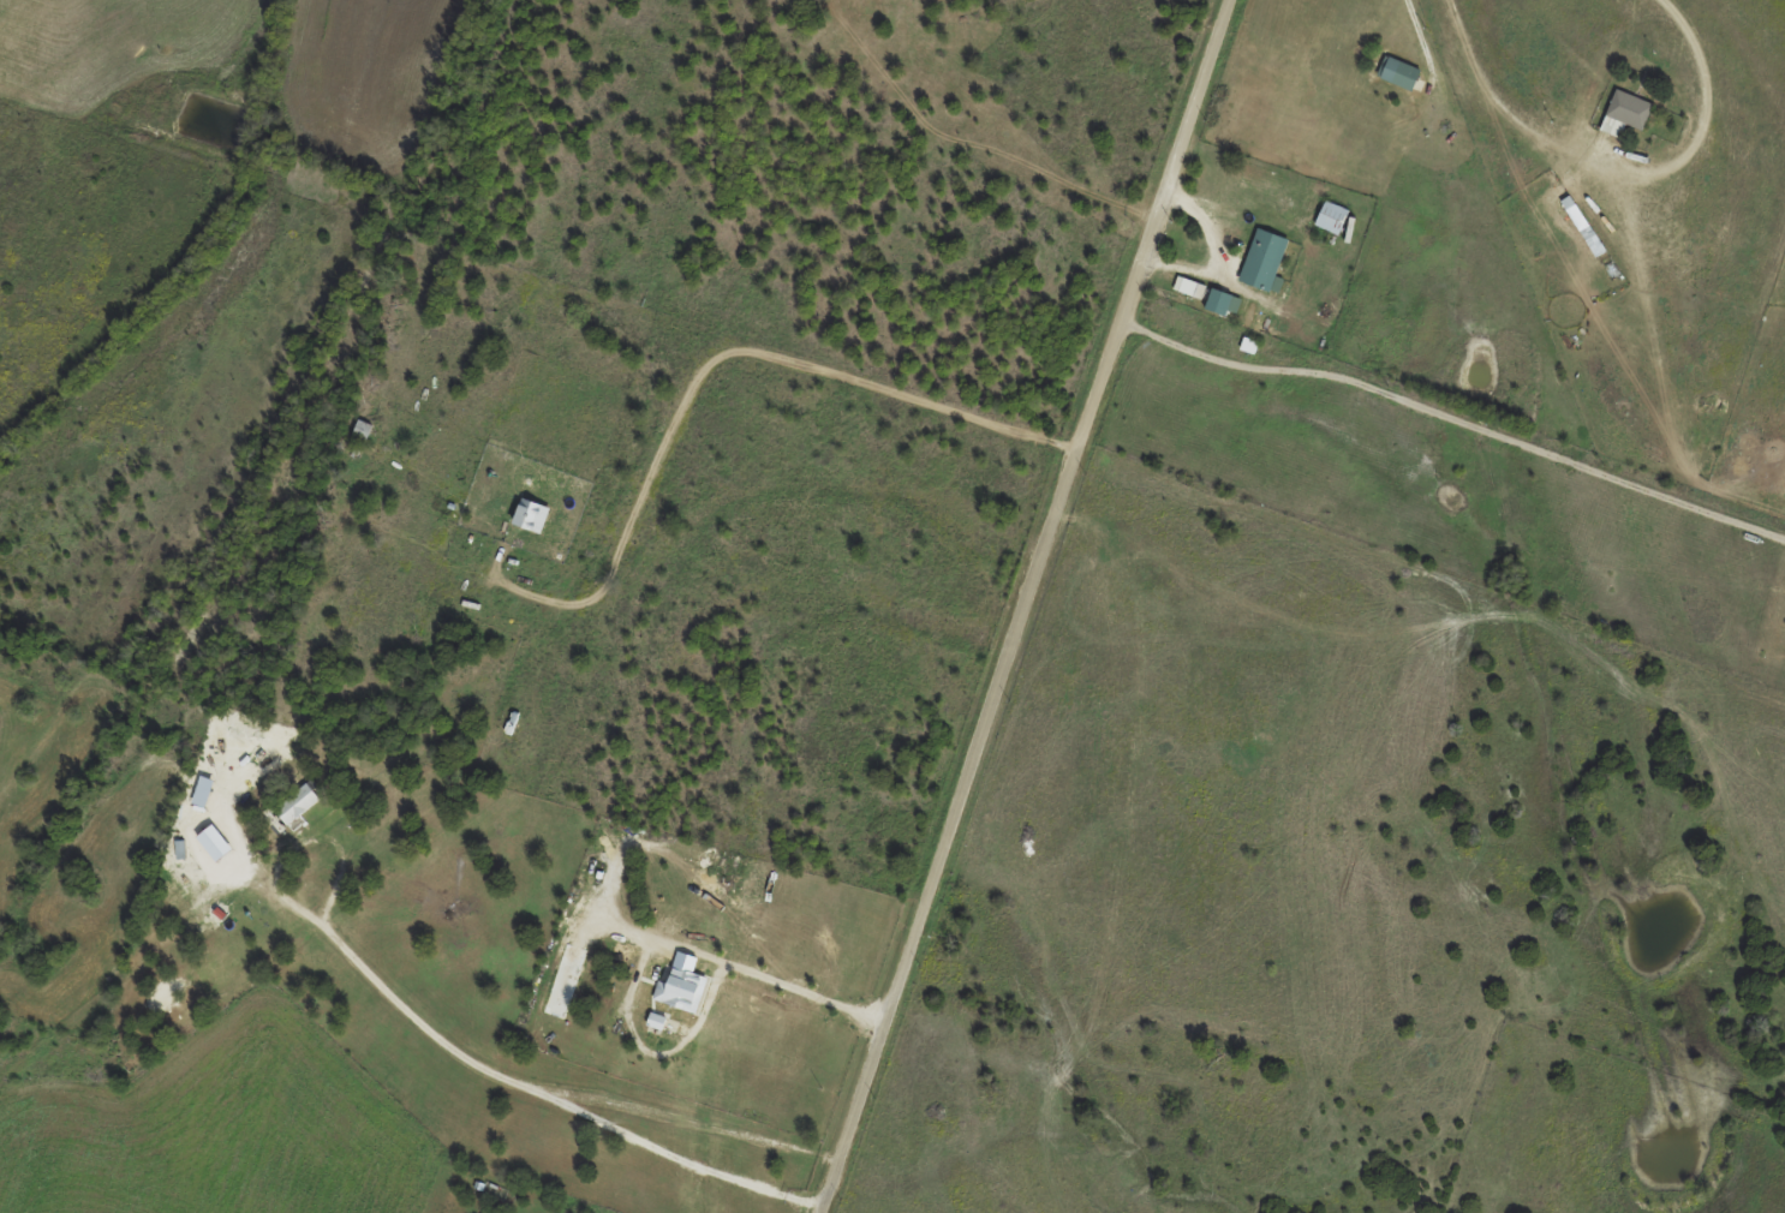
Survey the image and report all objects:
building: (1399, 72)
building: (1623, 113)
building: (1331, 217)
building: (1264, 261)
building: (1189, 287)
building: (1222, 301)
building: (363, 432)
building: (531, 514)
road: (1029, 605)
building: (297, 802)
building: (683, 988)

